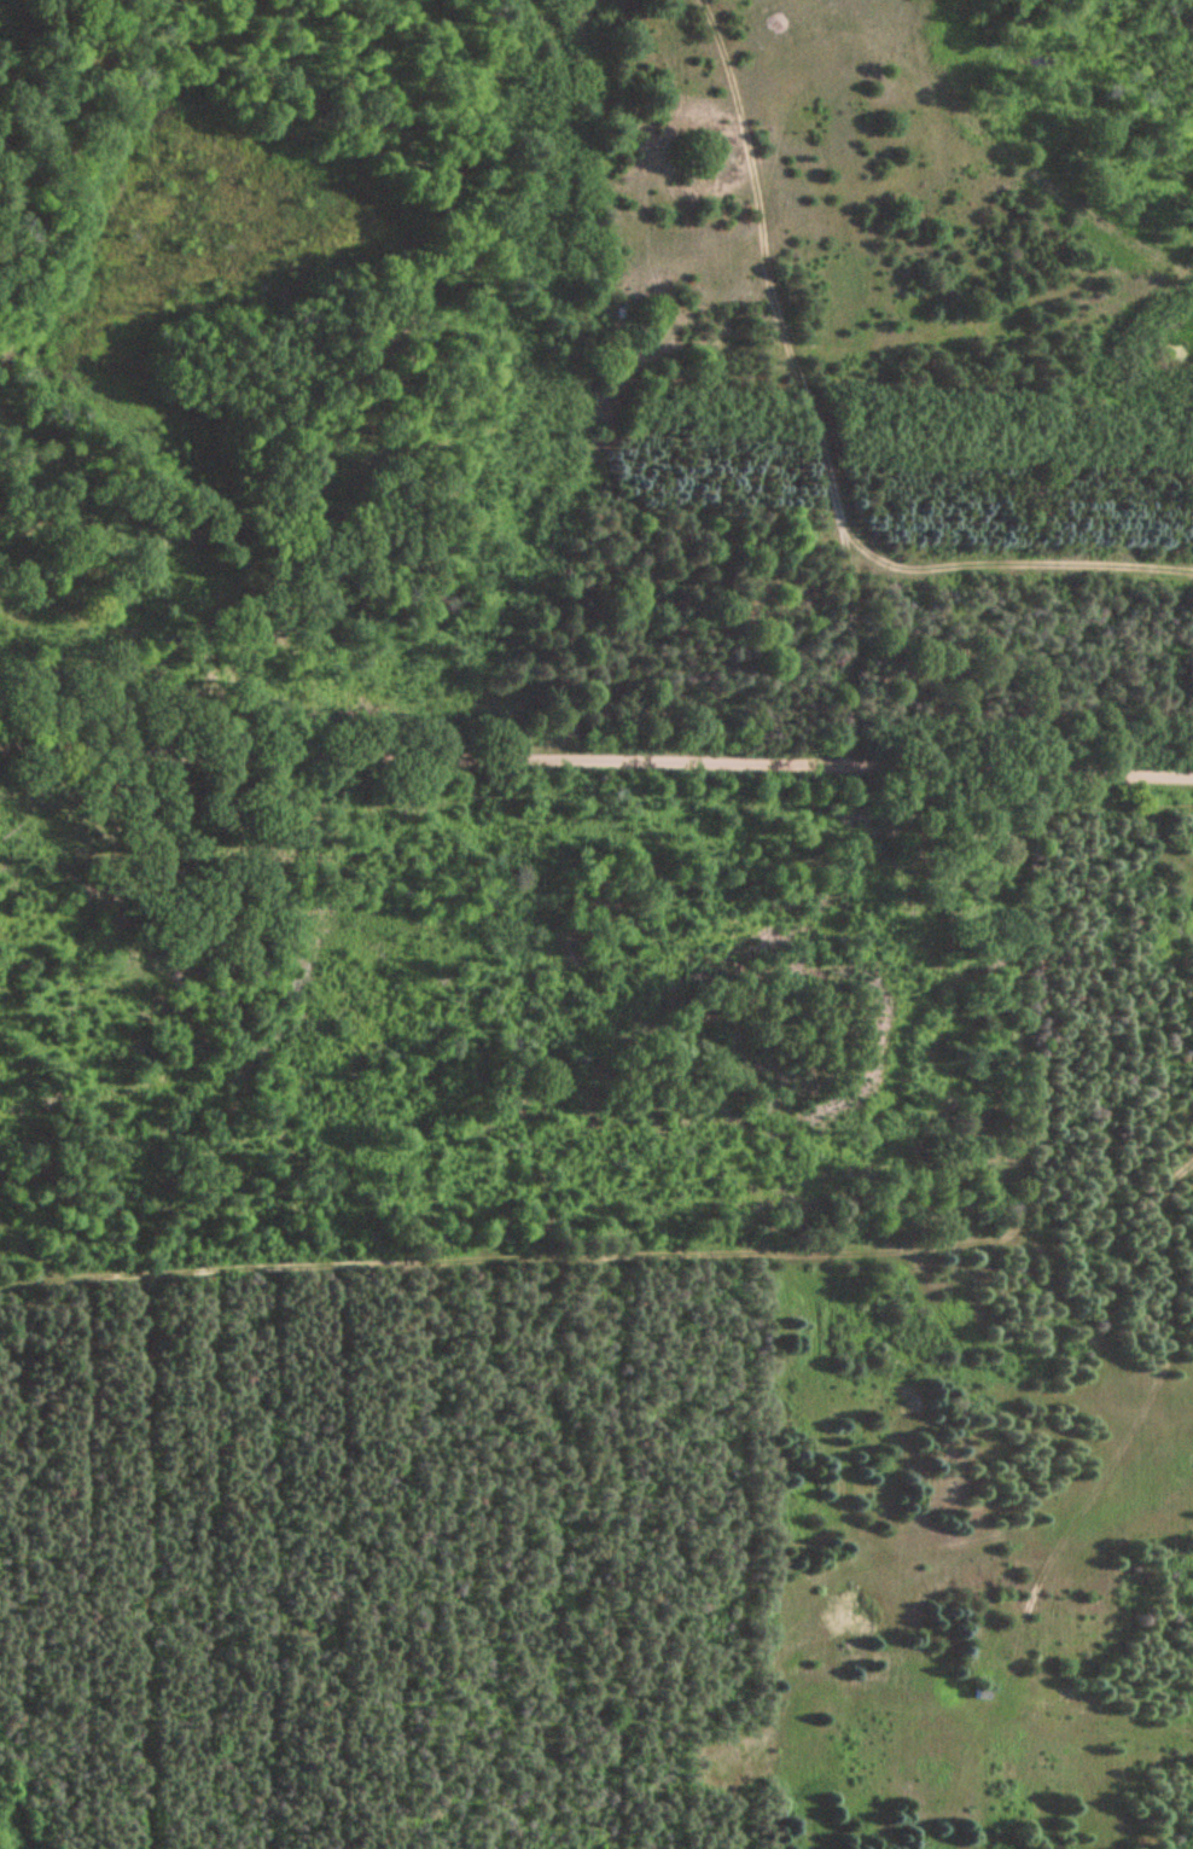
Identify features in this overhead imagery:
road: (595, 764)

